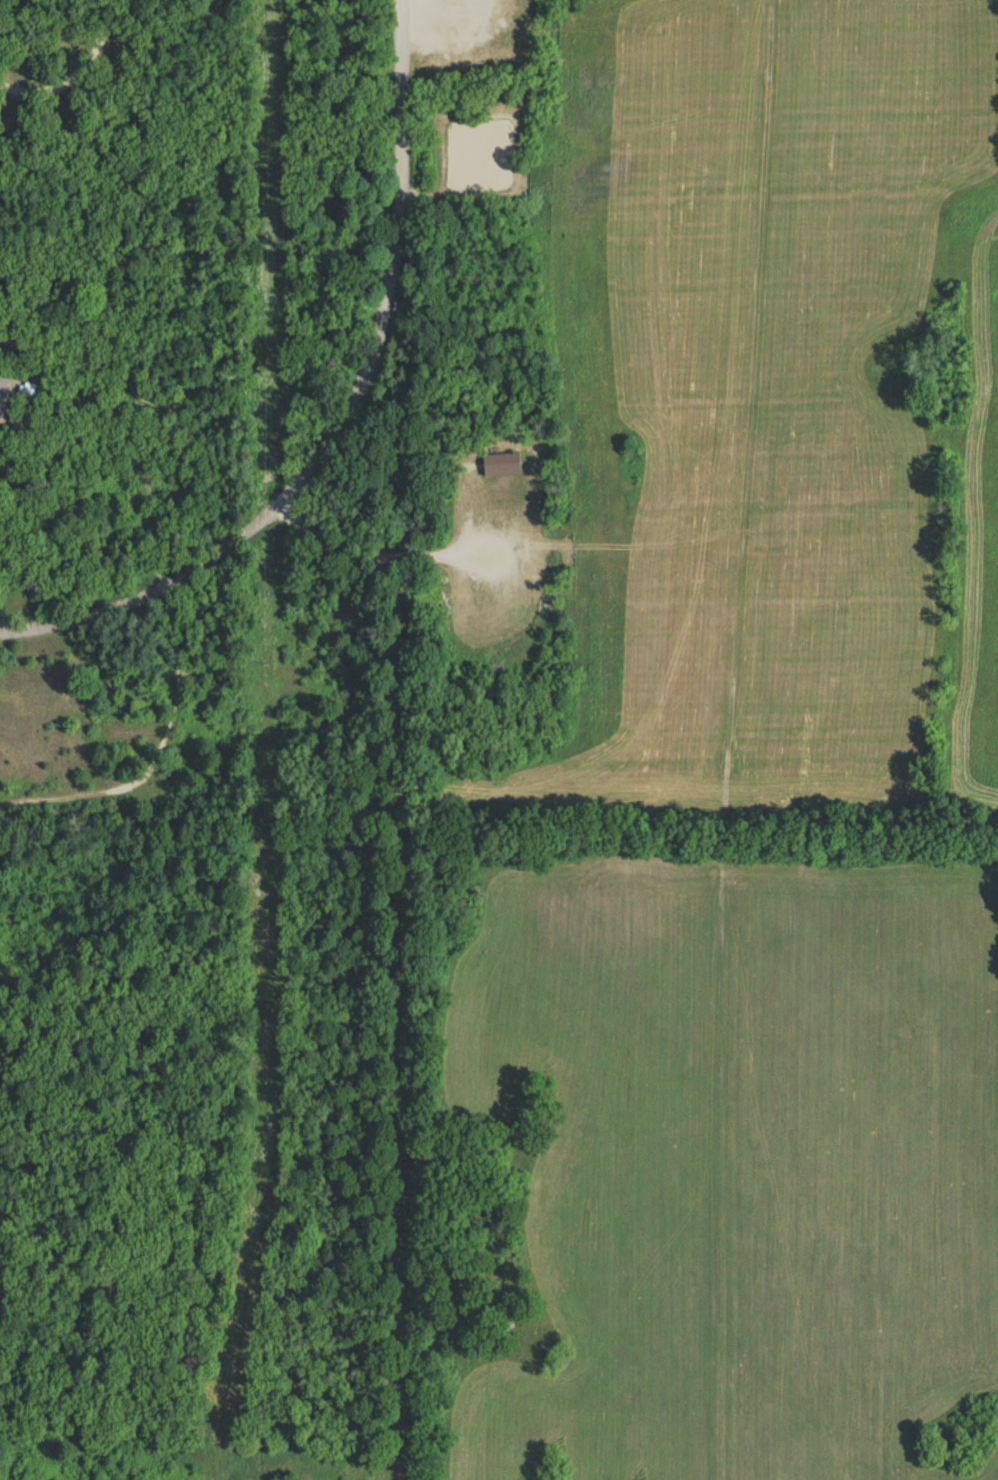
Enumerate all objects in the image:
road: (78, 74)
road: (349, 419)
building: (497, 467)
park: (219, 738)

